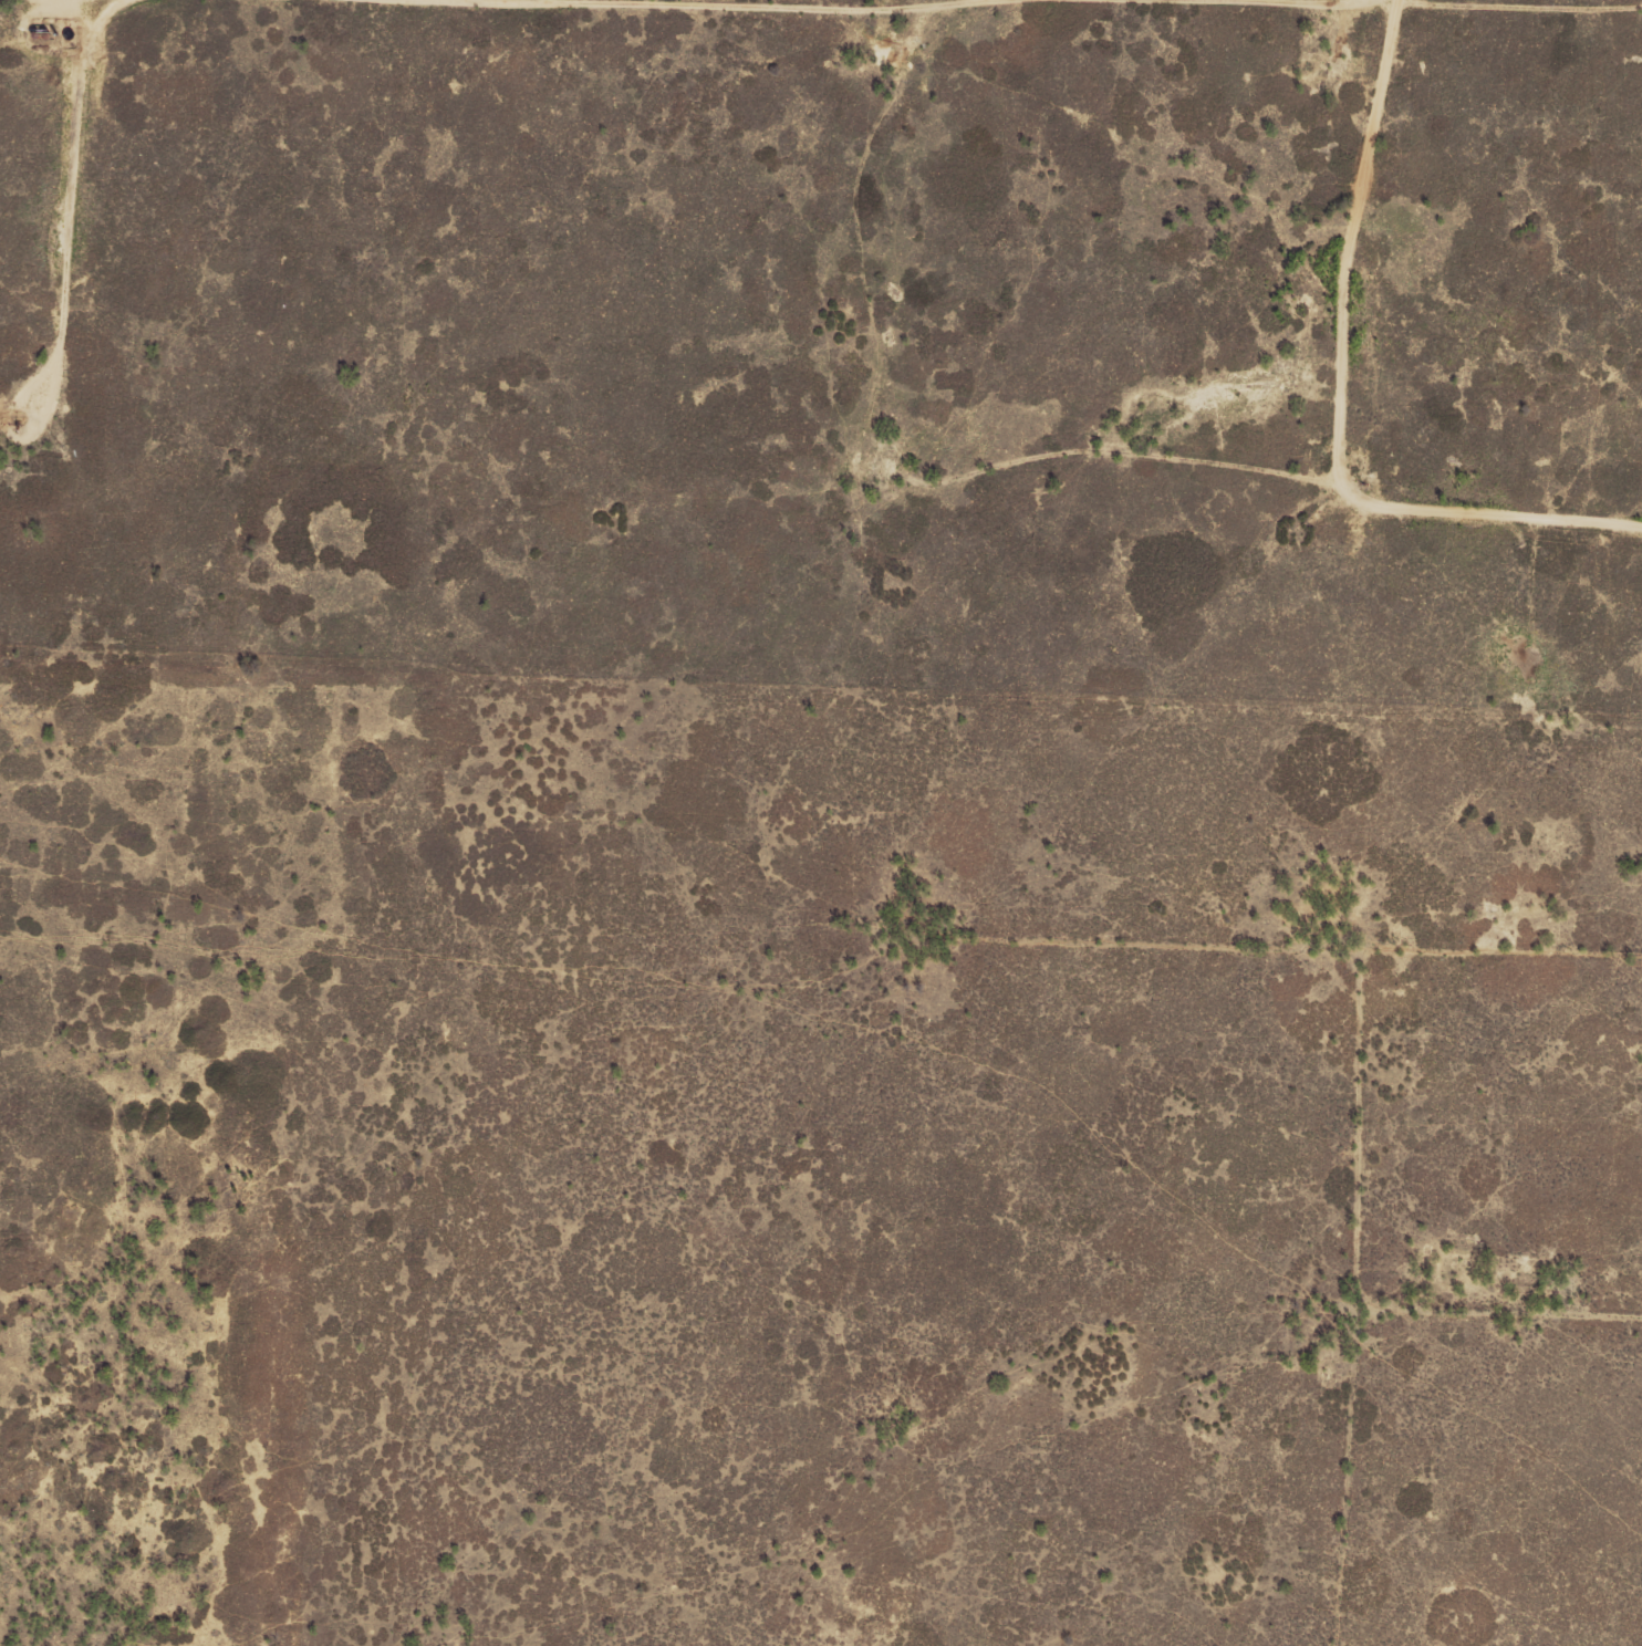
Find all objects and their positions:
road: (1193, 14)
road: (1535, 24)
road: (1390, 259)
road: (1058, 483)
road: (1424, 1207)
road: (1531, 1334)

